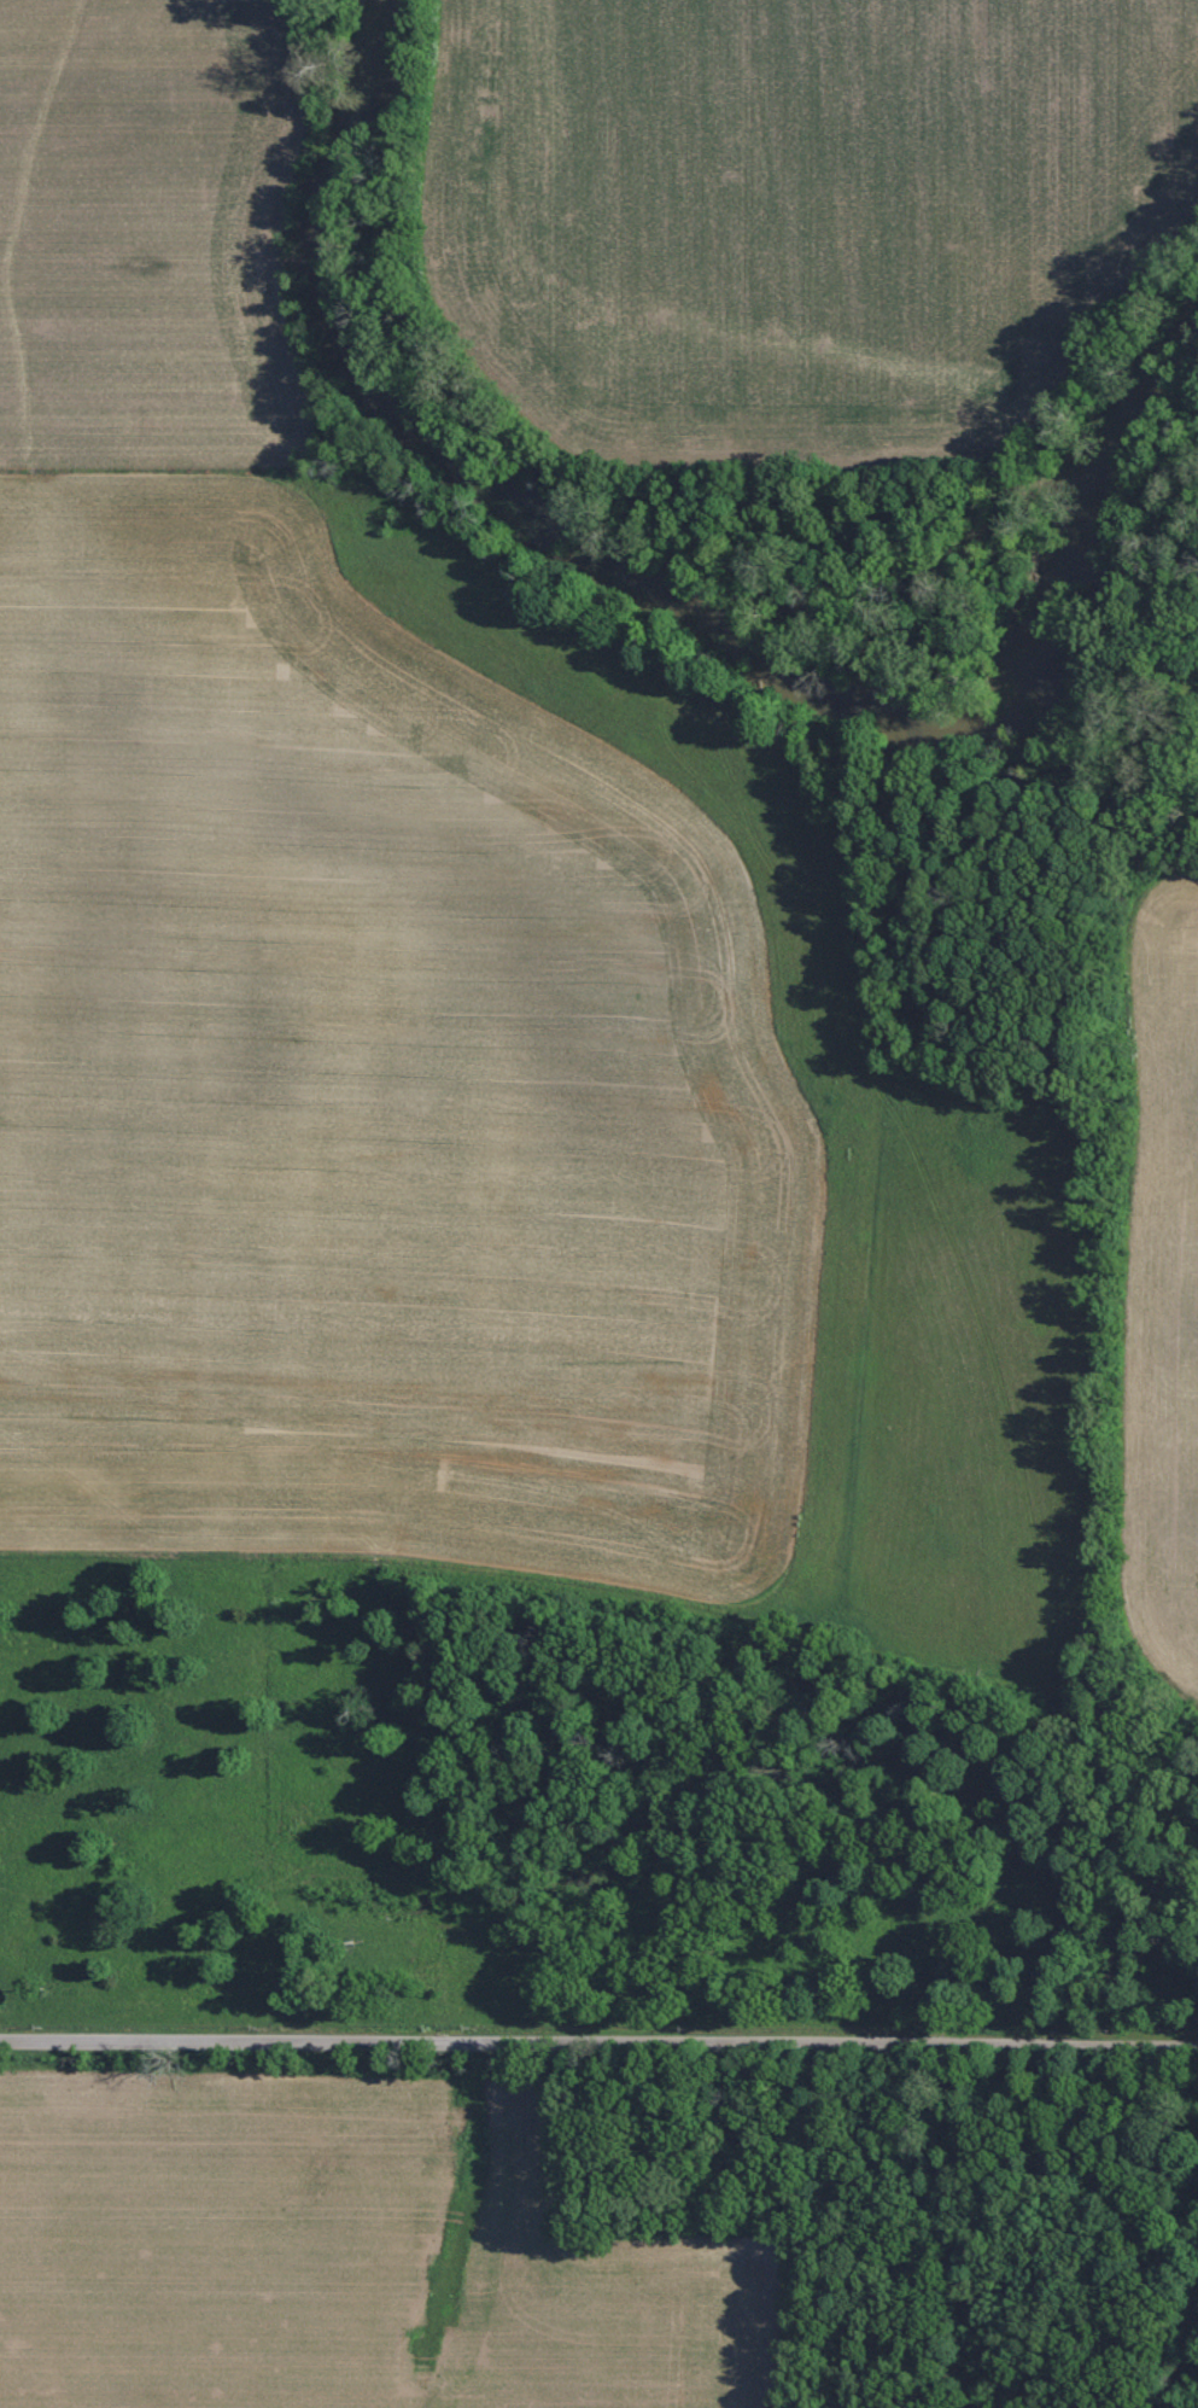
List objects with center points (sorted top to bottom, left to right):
road: (598, 2041)

